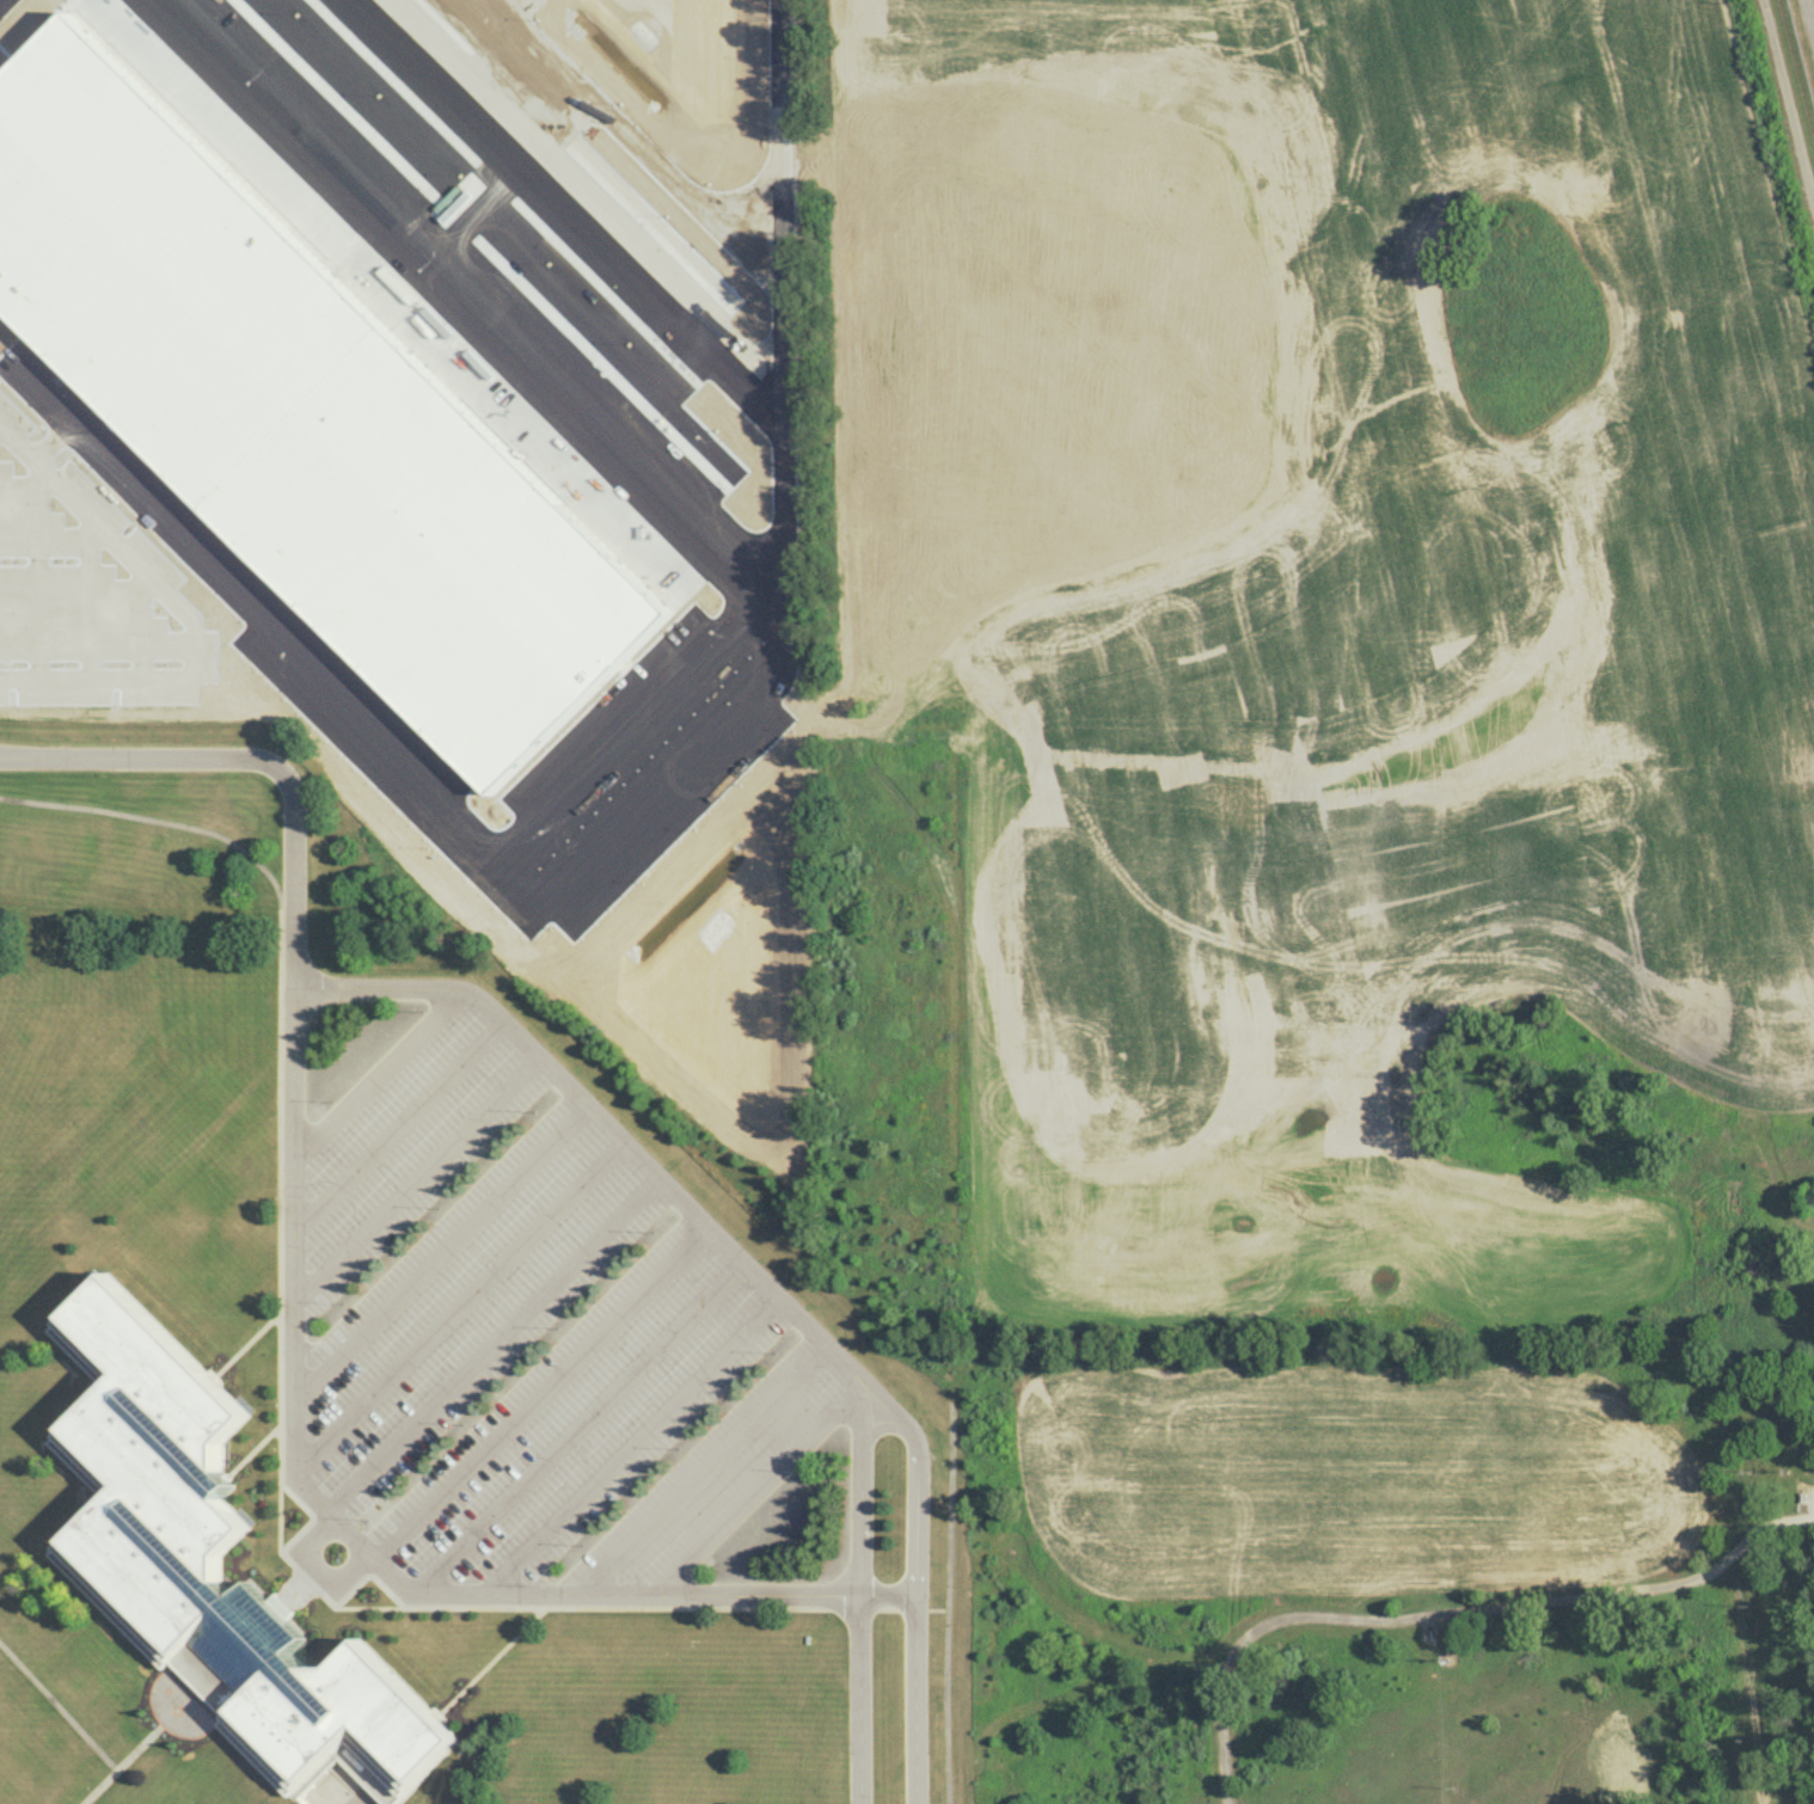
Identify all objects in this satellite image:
road: (1810, 13)
airport: (1806, 32)
road: (1787, 105)
crop: (397, 351)
road: (410, 994)
road: (398, 1123)
road: (415, 1179)
road: (440, 1251)
road: (459, 1302)
parking lot: (523, 1336)
road: (491, 1345)
road: (537, 1393)
road: (571, 1428)
road: (626, 1448)
road: (698, 1475)
road: (752, 1493)
road: (281, 1512)
road: (358, 1547)
building: (209, 1570)
road: (918, 1589)
road: (859, 1600)
road: (1601, 1601)
road: (1234, 1657)
road: (72, 1725)
road: (347, 1797)

